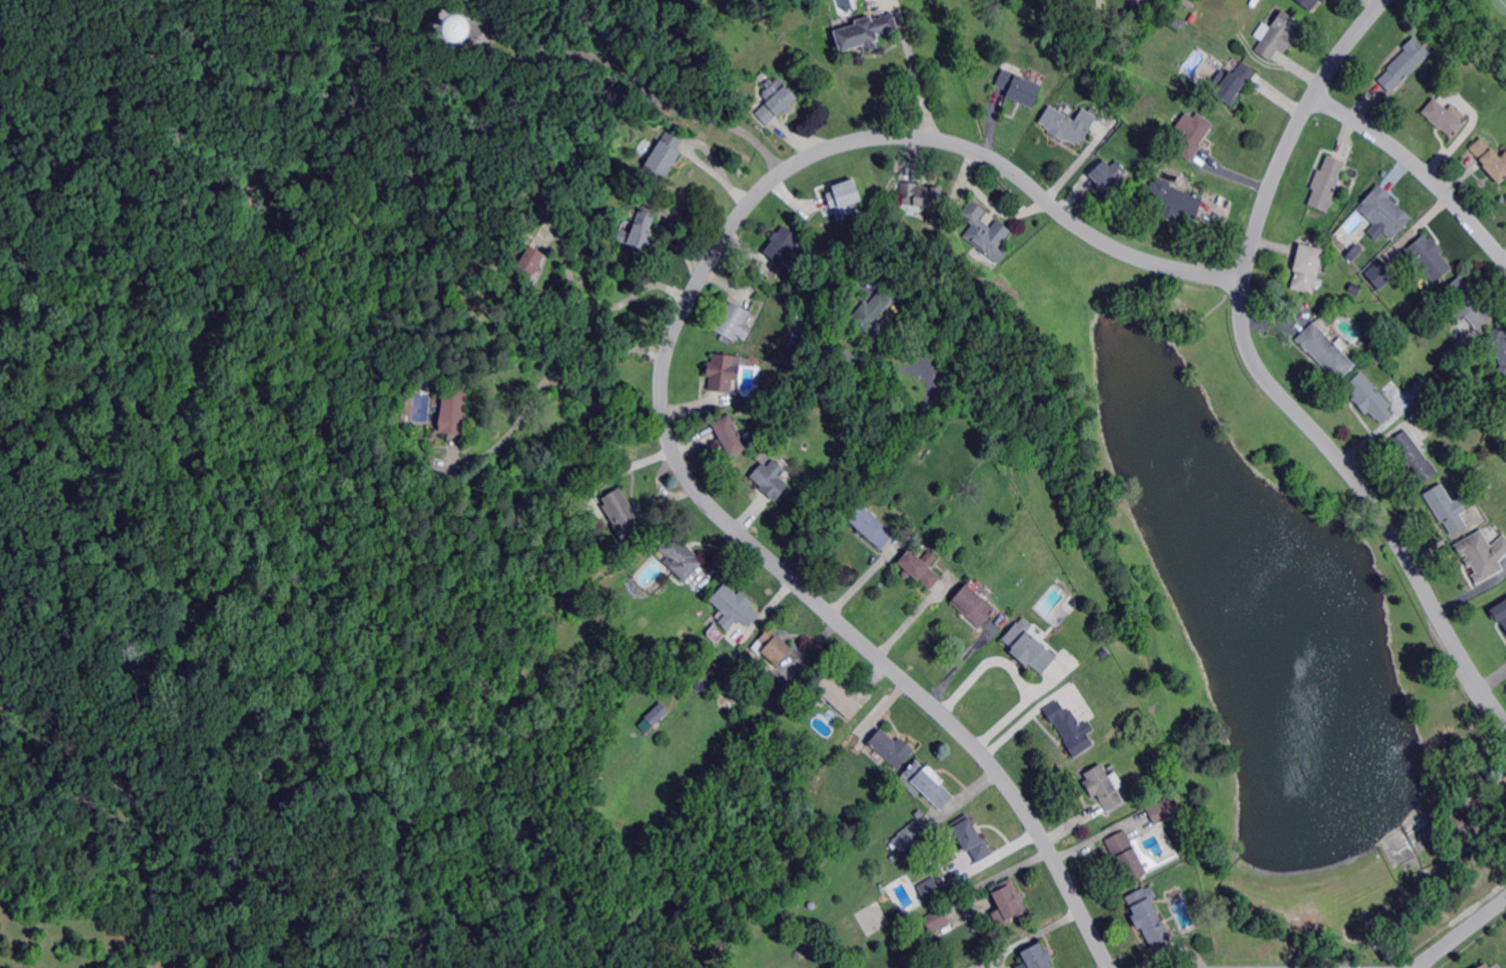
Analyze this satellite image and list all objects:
building: (1310, 3)
road: (480, 12)
building: (453, 26)
building: (1057, 30)
building: (865, 32)
building: (1275, 35)
building: (1405, 64)
road: (914, 69)
road: (633, 78)
building: (1232, 84)
building: (1020, 87)
building: (1107, 96)
road: (129, 101)
building: (775, 101)
building: (1442, 118)
building: (1068, 124)
building: (1190, 135)
building: (663, 156)
building: (1490, 160)
road: (1420, 168)
building: (1110, 177)
building: (1327, 183)
building: (844, 194)
building: (921, 194)
building: (1505, 198)
building: (1173, 200)
park: (181, 207)
building: (1383, 213)
building: (643, 229)
building: (985, 229)
building: (784, 245)
building: (1356, 249)
building: (1429, 258)
building: (1307, 268)
building: (526, 272)
building: (1377, 273)
building: (876, 275)
building: (1354, 289)
building: (1466, 303)
road: (606, 308)
building: (873, 312)
building: (735, 322)
building: (1498, 346)
building: (1456, 351)
building: (1327, 353)
building: (723, 372)
road: (1266, 377)
road: (544, 379)
road: (662, 382)
building: (1423, 389)
building: (1369, 400)
building: (455, 408)
building: (730, 435)
road: (894, 449)
building: (1414, 458)
building: (771, 478)
building: (1446, 508)
building: (622, 516)
building: (871, 527)
building: (1483, 555)
building: (681, 557)
building: (920, 568)
building: (974, 604)
building: (735, 607)
building: (1500, 612)
building: (775, 645)
building: (1029, 646)
road: (1003, 658)
road: (1005, 684)
building: (779, 690)
building: (837, 695)
building: (652, 715)
building: (1071, 728)
building: (892, 748)
building: (926, 783)
building: (1103, 786)
building: (1160, 813)
building: (919, 814)
building: (911, 835)
building: (973, 839)
building: (1127, 854)
building: (894, 857)
building: (824, 858)
building: (929, 889)
building: (1008, 902)
building: (812, 906)
building: (1148, 915)
building: (935, 920)
road: (1463, 934)
building: (1038, 956)
building: (944, 957)
building: (1483, 966)
building: (1492, 966)

